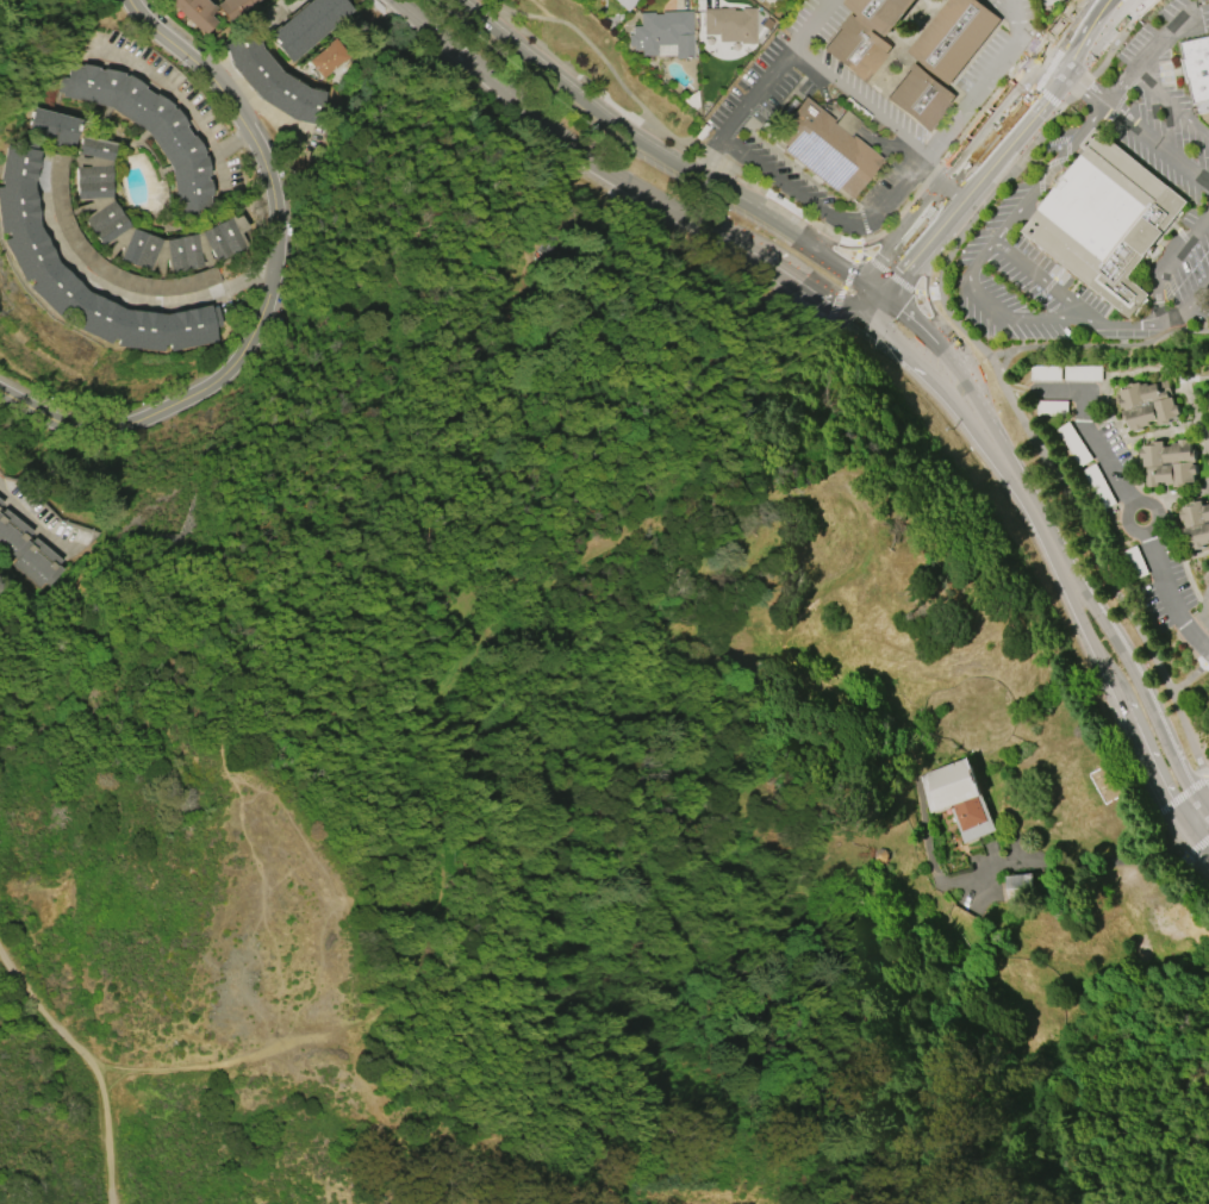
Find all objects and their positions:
building: (758, 0)
building: (624, 5)
road: (376, 6)
building: (232, 7)
road: (1007, 8)
road: (543, 10)
road: (1120, 10)
building: (881, 12)
building: (201, 17)
road: (1059, 23)
building: (729, 25)
building: (306, 26)
building: (662, 35)
building: (953, 38)
road: (1027, 39)
road: (1161, 43)
road: (1082, 44)
road: (205, 49)
building: (858, 51)
building: (328, 58)
building: (1197, 70)
building: (273, 82)
road: (761, 86)
road: (1117, 88)
road: (177, 98)
road: (976, 99)
building: (918, 100)
road: (587, 102)
road: (859, 102)
road: (1170, 102)
road: (849, 121)
road: (1133, 125)
building: (52, 126)
road: (540, 127)
road: (665, 129)
building: (150, 130)
road: (977, 139)
building: (824, 151)
road: (1003, 154)
road: (939, 166)
road: (220, 174)
building: (98, 205)
road: (824, 212)
building: (1104, 220)
road: (884, 237)
road: (833, 244)
road: (856, 245)
building: (29, 251)
road: (860, 260)
road: (884, 272)
road: (970, 274)
road: (789, 279)
road: (903, 279)
road: (896, 280)
road: (1039, 282)
road: (1159, 291)
traffic signals: (873, 292)
road: (268, 294)
road: (112, 295)
road: (853, 295)
traffic signals: (885, 301)
road: (889, 304)
road: (928, 310)
traffic signals: (855, 316)
traffic signals: (868, 325)
road: (1098, 347)
building: (1083, 374)
road: (940, 386)
building: (1148, 405)
road: (1178, 428)
road: (1101, 454)
building: (1167, 463)
road: (1178, 495)
building: (0, 503)
road: (1034, 510)
road: (1159, 513)
road: (36, 520)
building: (1196, 524)
road: (1130, 526)
road: (1084, 529)
road: (647, 531)
road: (1030, 544)
building: (26, 553)
road: (1173, 601)
road: (1205, 609)
road: (1192, 650)
road: (1191, 680)
road: (1140, 685)
road: (1121, 697)
road: (1207, 775)
road: (1207, 779)
building: (1108, 784)
road: (1180, 796)
building: (958, 798)
road: (1205, 811)
road: (1205, 817)
road: (1197, 838)
road: (1197, 850)
road: (1182, 853)
road: (1089, 863)
building: (1021, 888)
road: (223, 1066)
road: (100, 1136)

